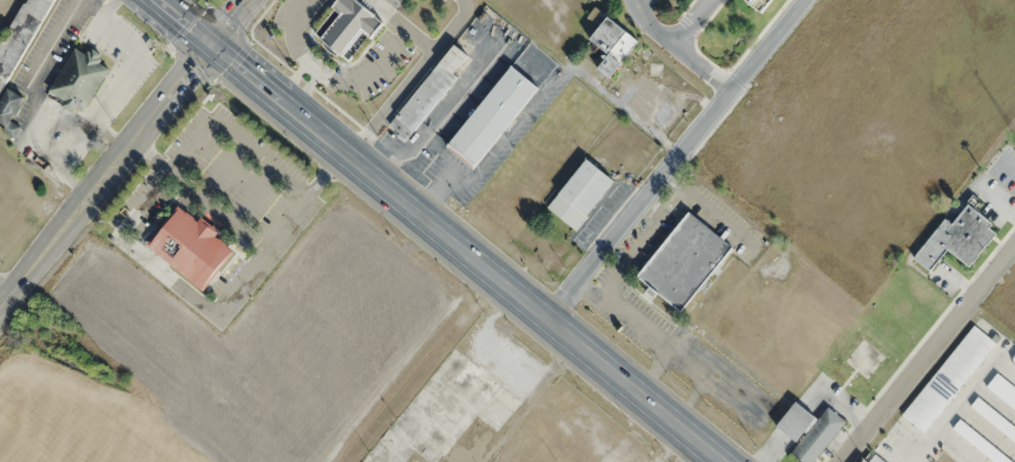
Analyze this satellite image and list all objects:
road: (635, 1)
building: (760, 4)
parking garage: (760, 4)
road: (71, 7)
road: (98, 14)
road: (182, 23)
road: (230, 23)
road: (690, 23)
building: (353, 26)
building: (20, 36)
traffic signals: (210, 46)
building: (611, 46)
road: (676, 50)
road: (410, 79)
building: (70, 80)
building: (429, 91)
building: (10, 111)
building: (492, 117)
road: (191, 142)
road: (262, 153)
road: (673, 158)
road: (61, 159)
road: (226, 170)
road: (105, 173)
road: (256, 194)
building: (581, 194)
road: (216, 208)
building: (958, 238)
building: (190, 247)
road: (465, 253)
building: (684, 261)
road: (5, 284)
road: (193, 297)
road: (927, 353)
building: (1013, 363)
building: (949, 378)
building: (1002, 390)
building: (994, 419)
building: (809, 430)
building: (980, 443)
road: (693, 454)
building: (873, 458)

